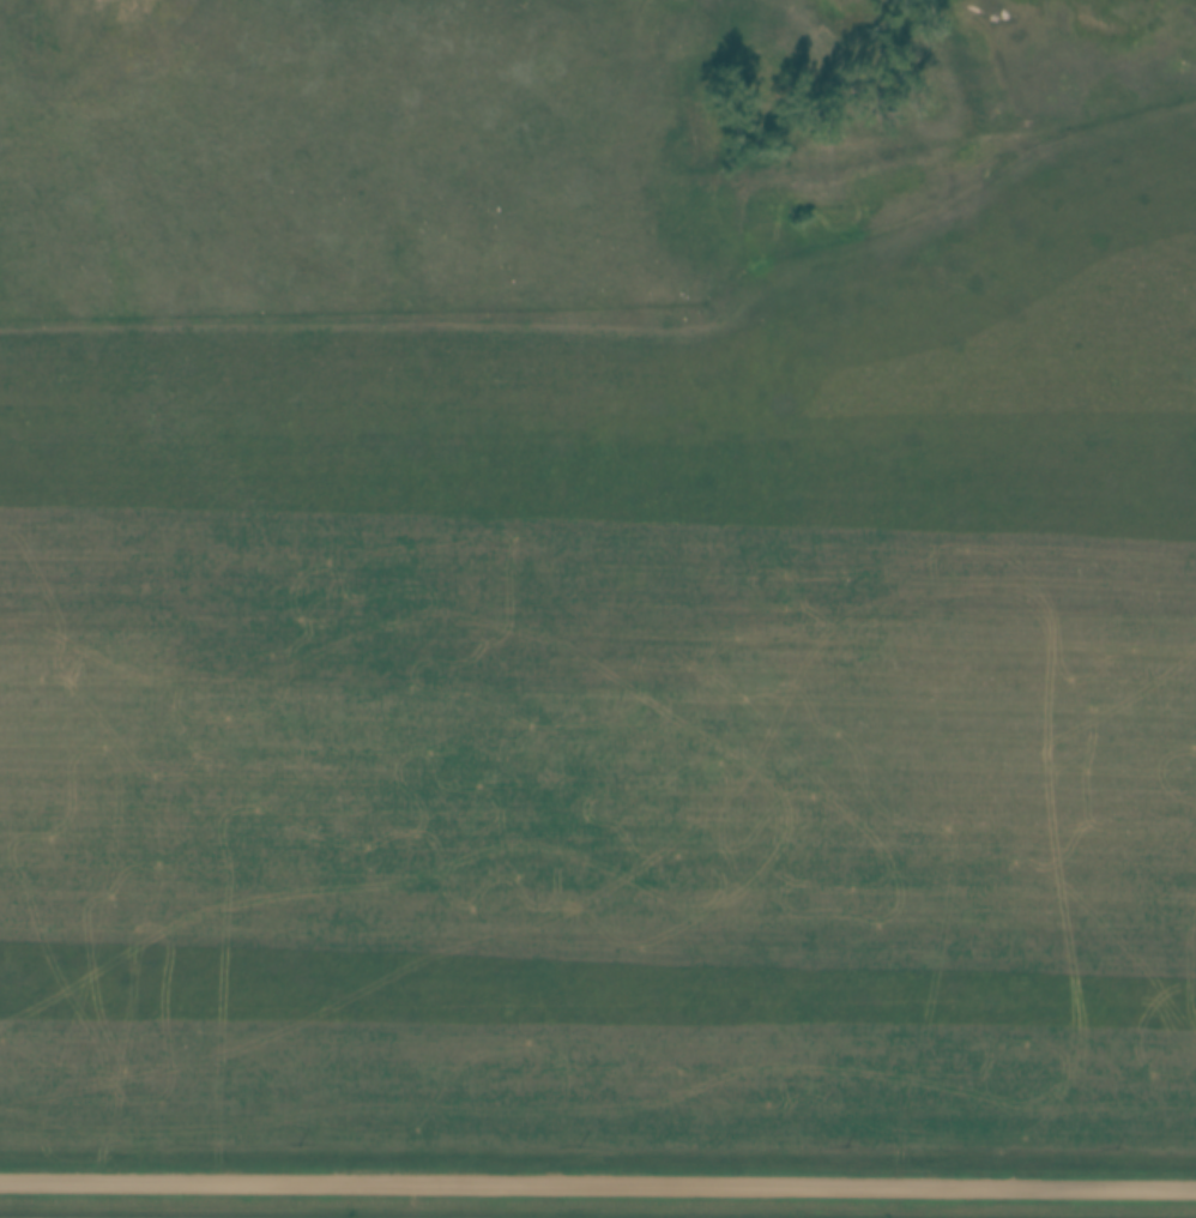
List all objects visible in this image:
road: (597, 1184)

